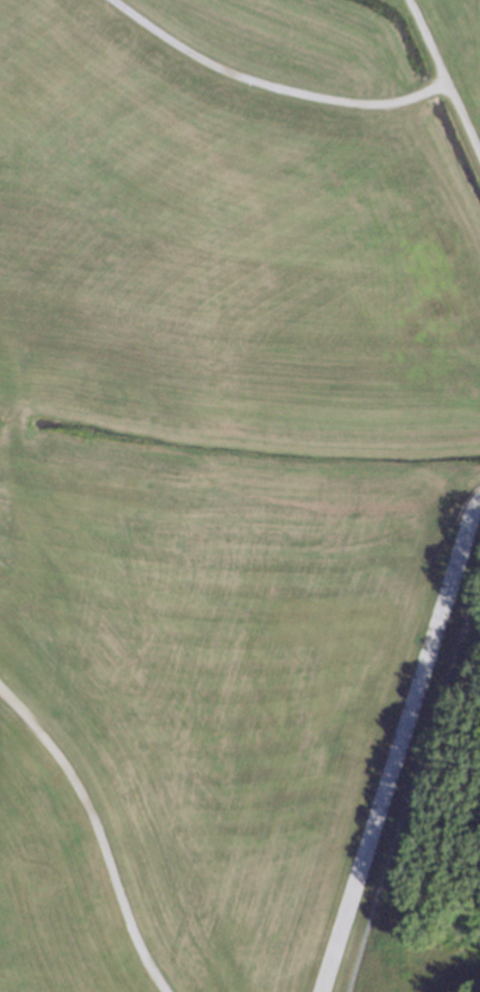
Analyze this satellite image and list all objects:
road: (445, 78)
road: (271, 89)
airport: (240, 496)
road: (399, 744)
road: (99, 832)

